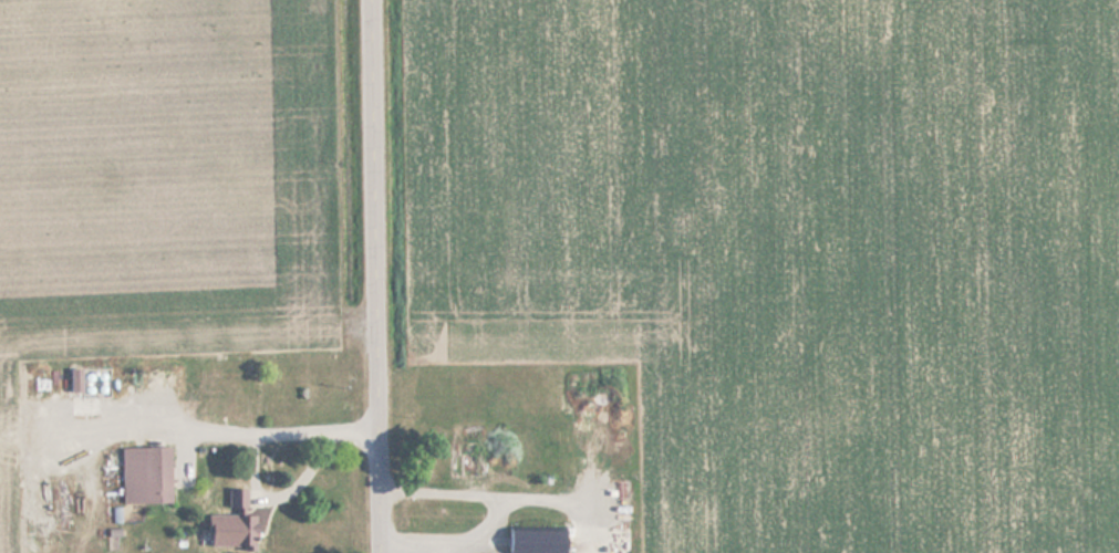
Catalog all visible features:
road: (379, 276)
building: (75, 375)
building: (219, 392)
building: (467, 463)
building: (145, 476)
building: (236, 500)
building: (244, 532)
building: (537, 541)

